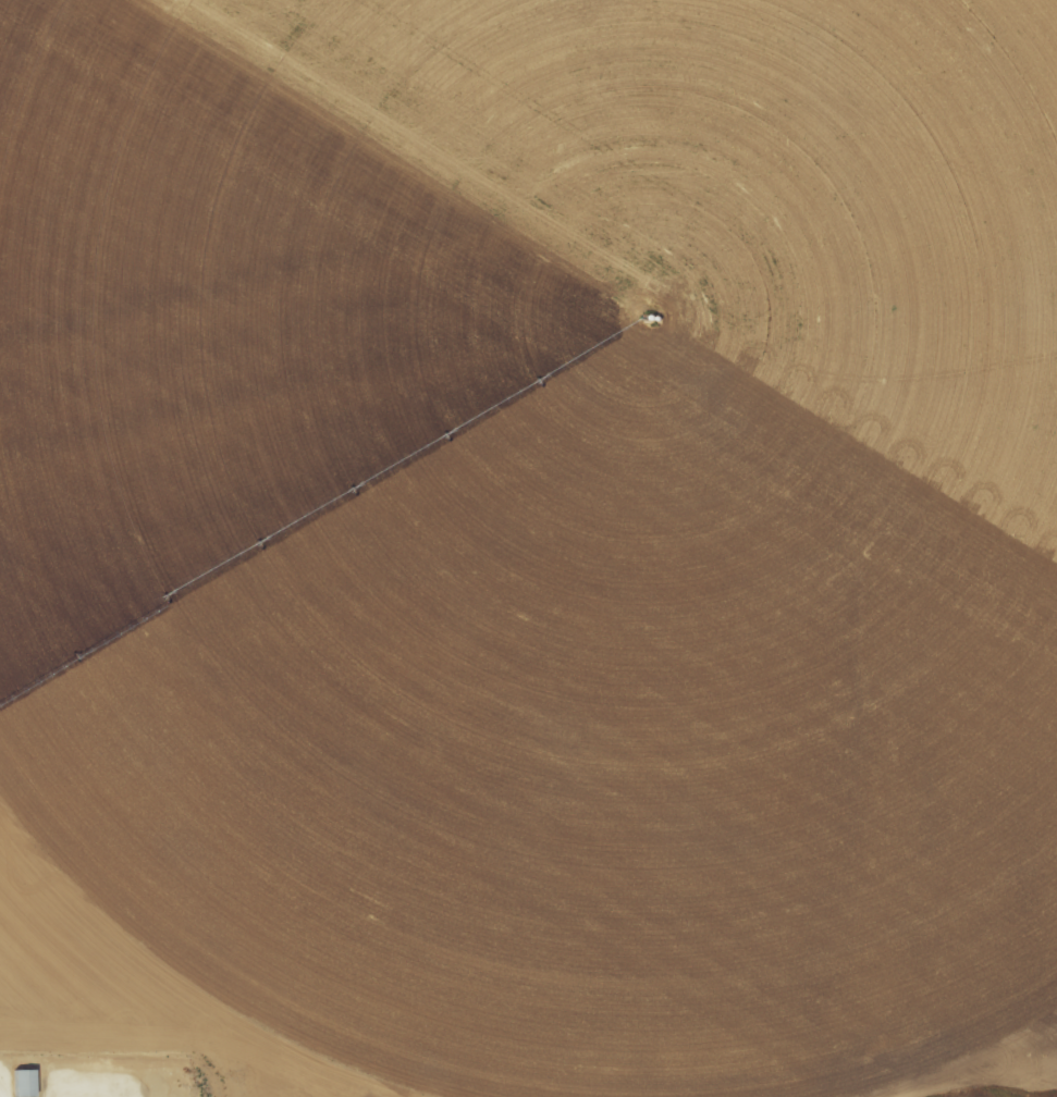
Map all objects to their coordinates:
building: (27, 1083)

